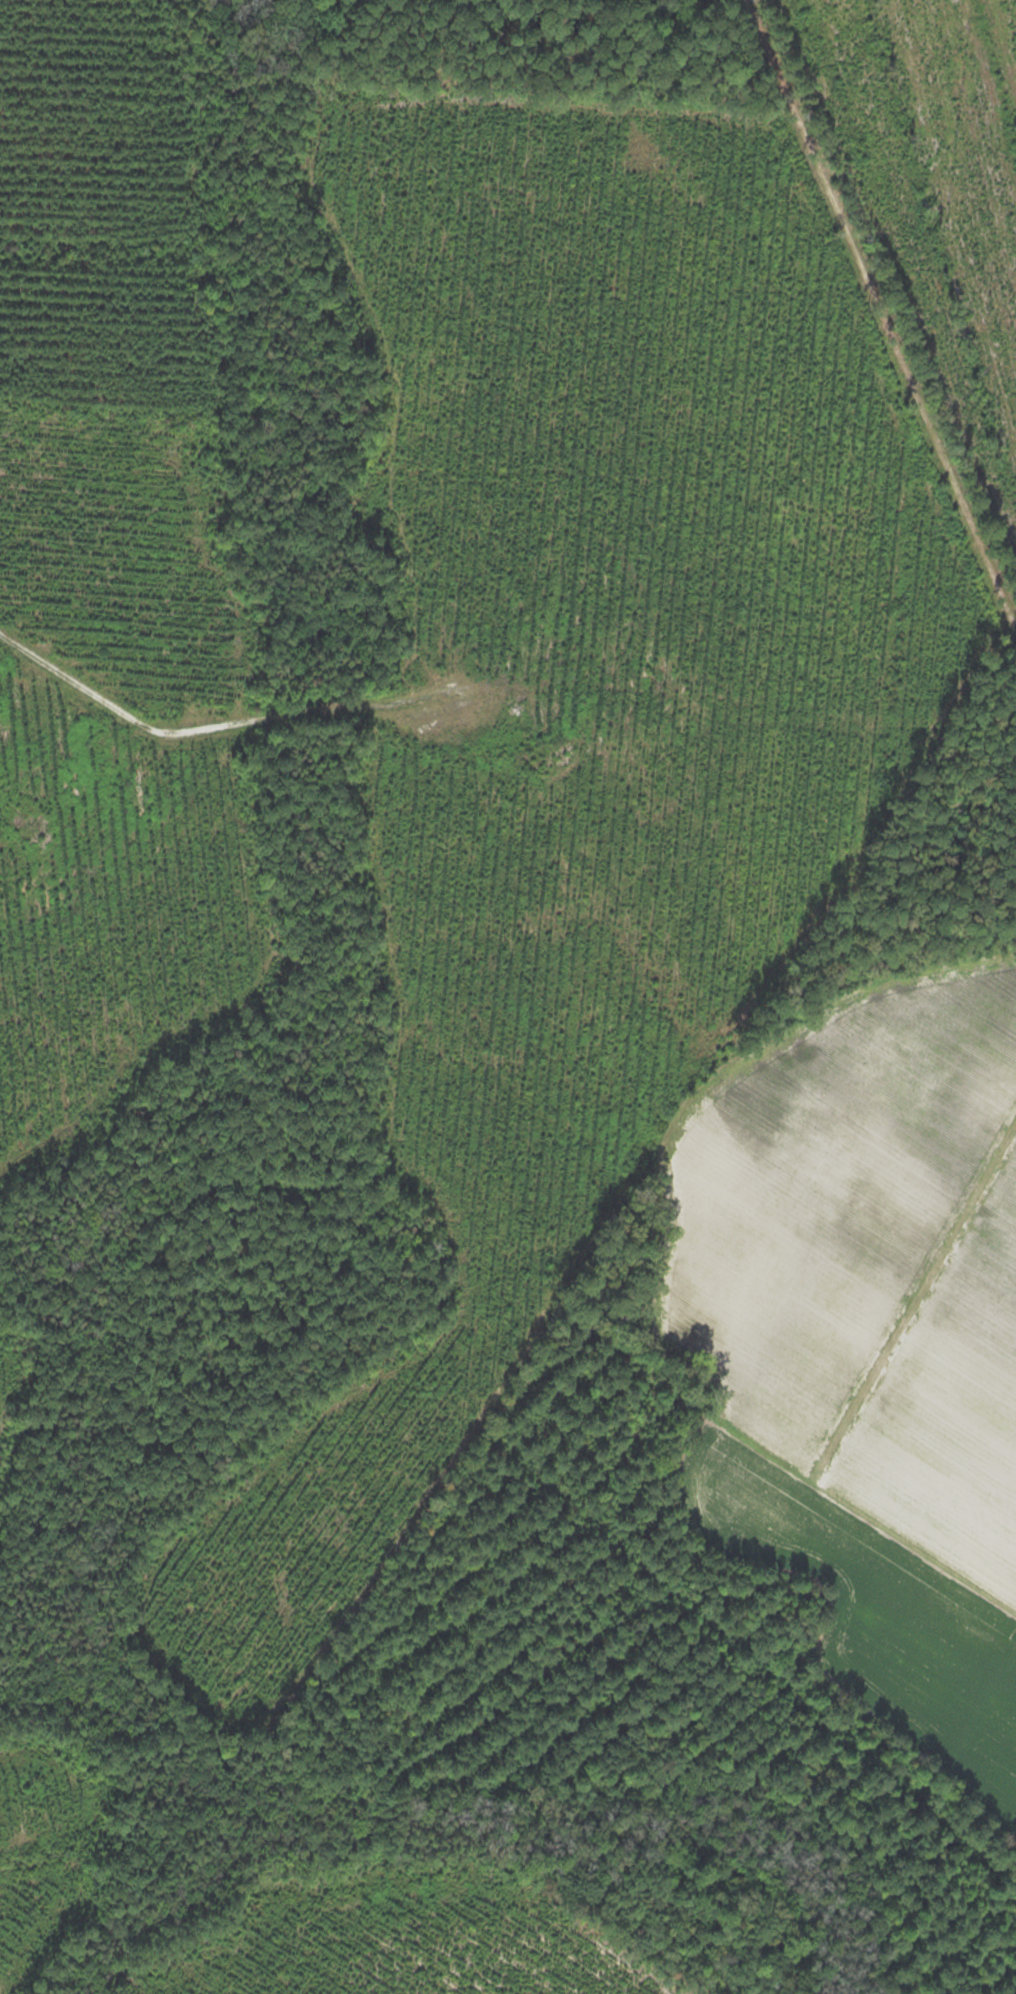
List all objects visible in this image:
road: (892, 283)

